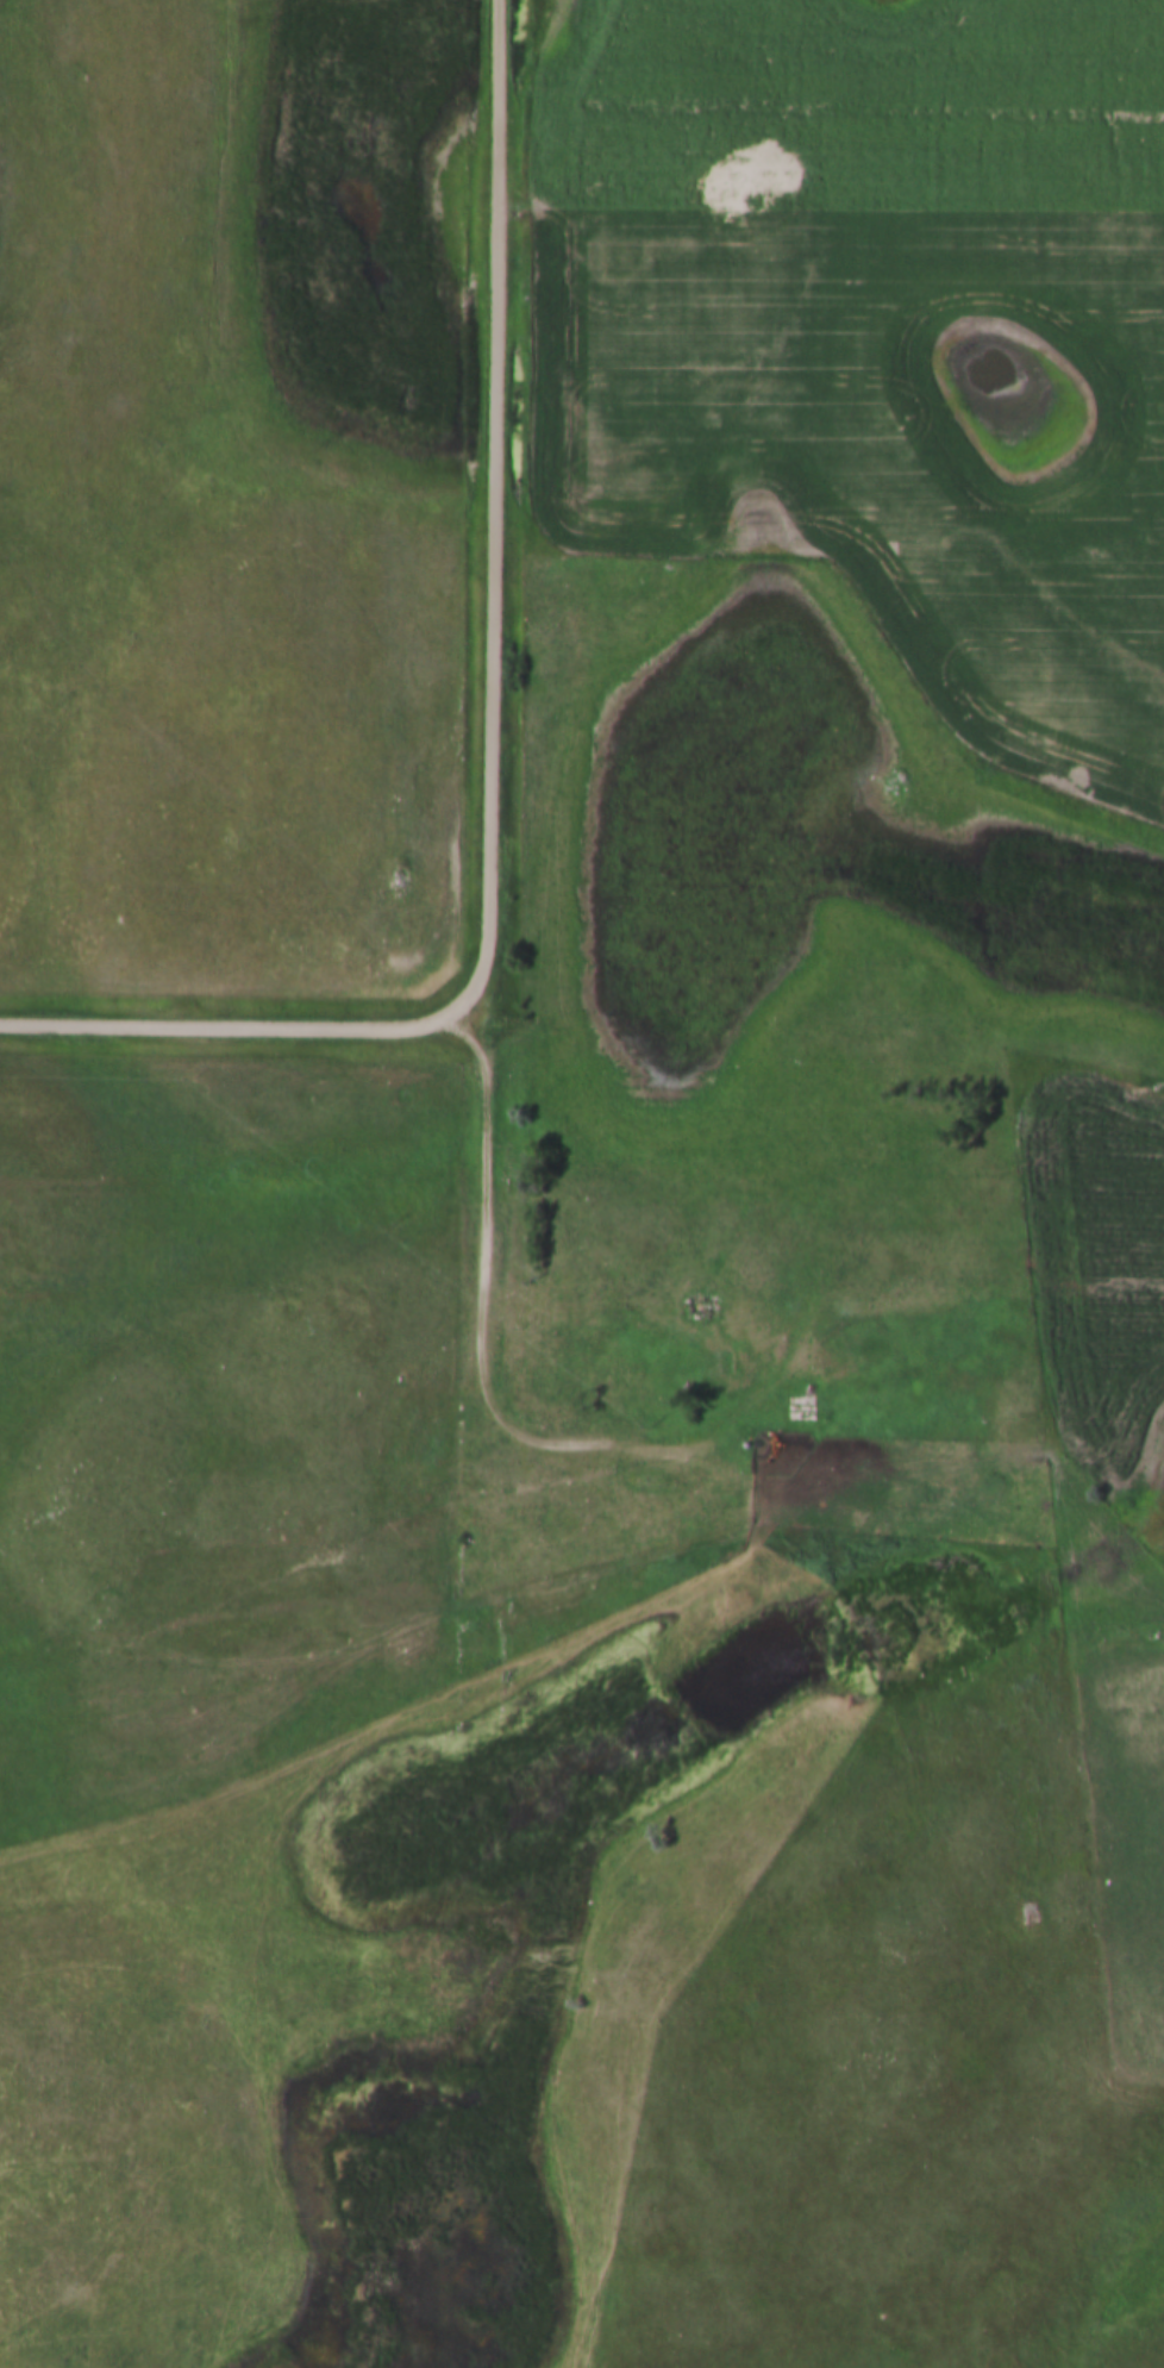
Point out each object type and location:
road: (494, 523)
road: (219, 1033)
road: (481, 1347)

